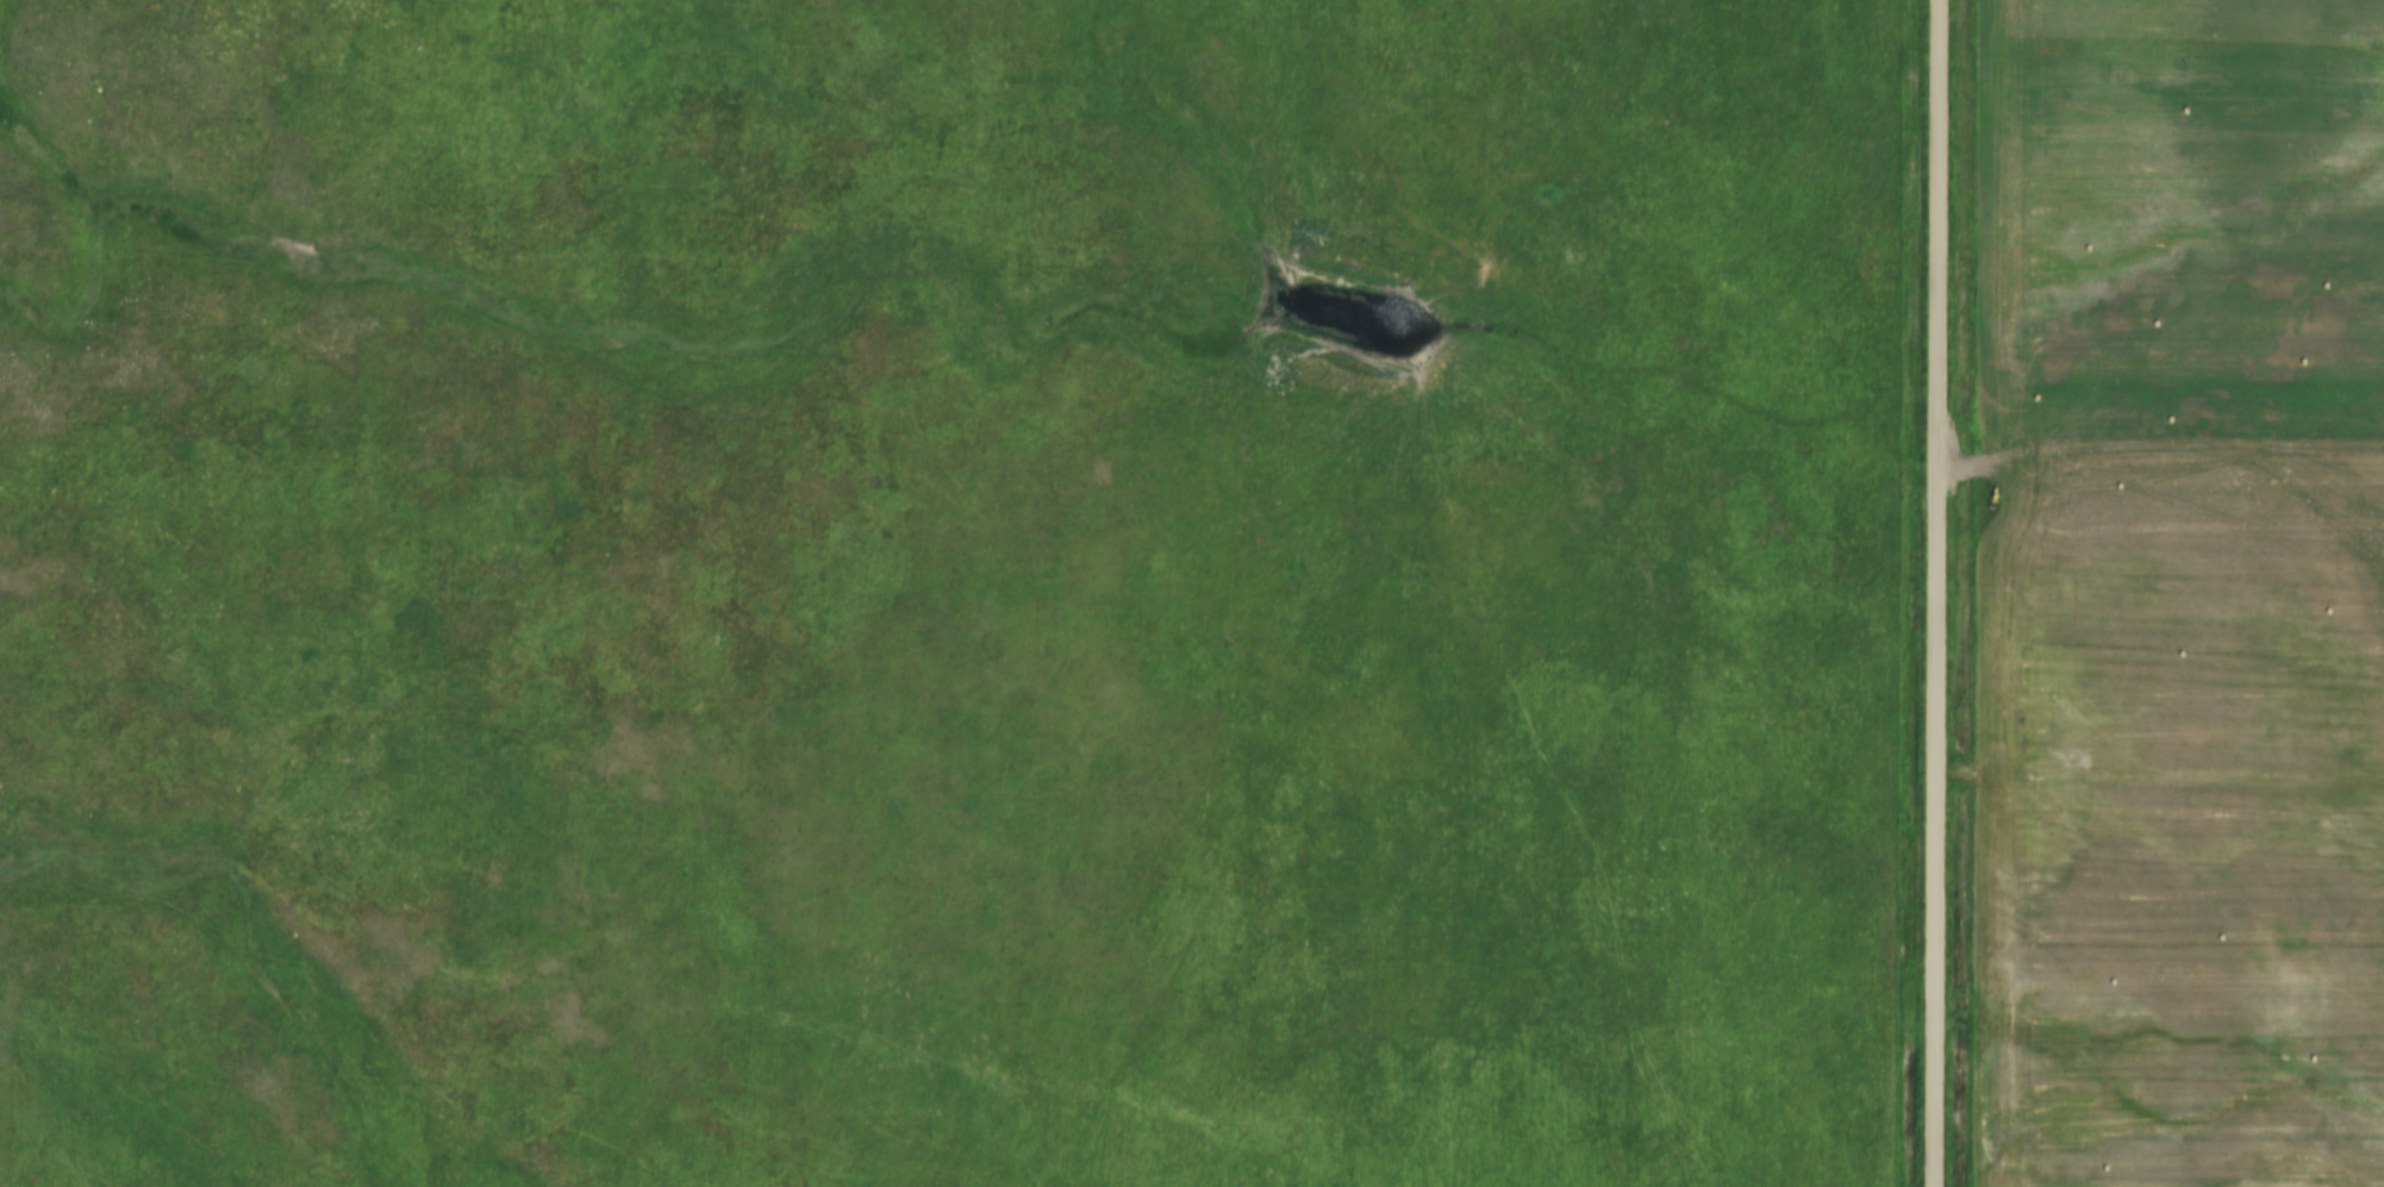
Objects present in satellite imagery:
road: (1935, 593)

